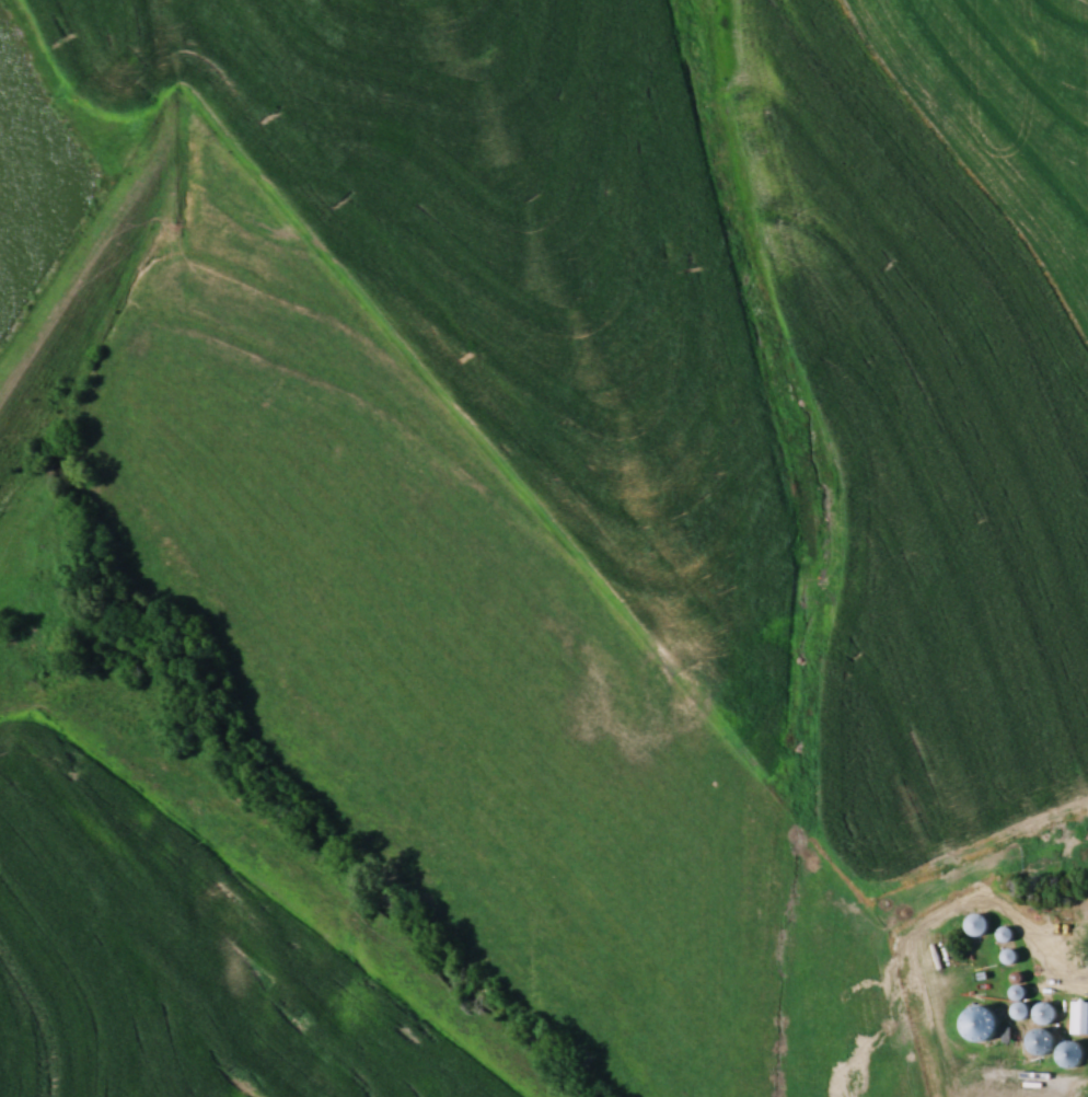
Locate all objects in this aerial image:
building: (981, 924)
building: (1026, 1009)
building: (1048, 1014)
building: (1081, 1017)
building: (1045, 1041)
building: (1077, 1055)

